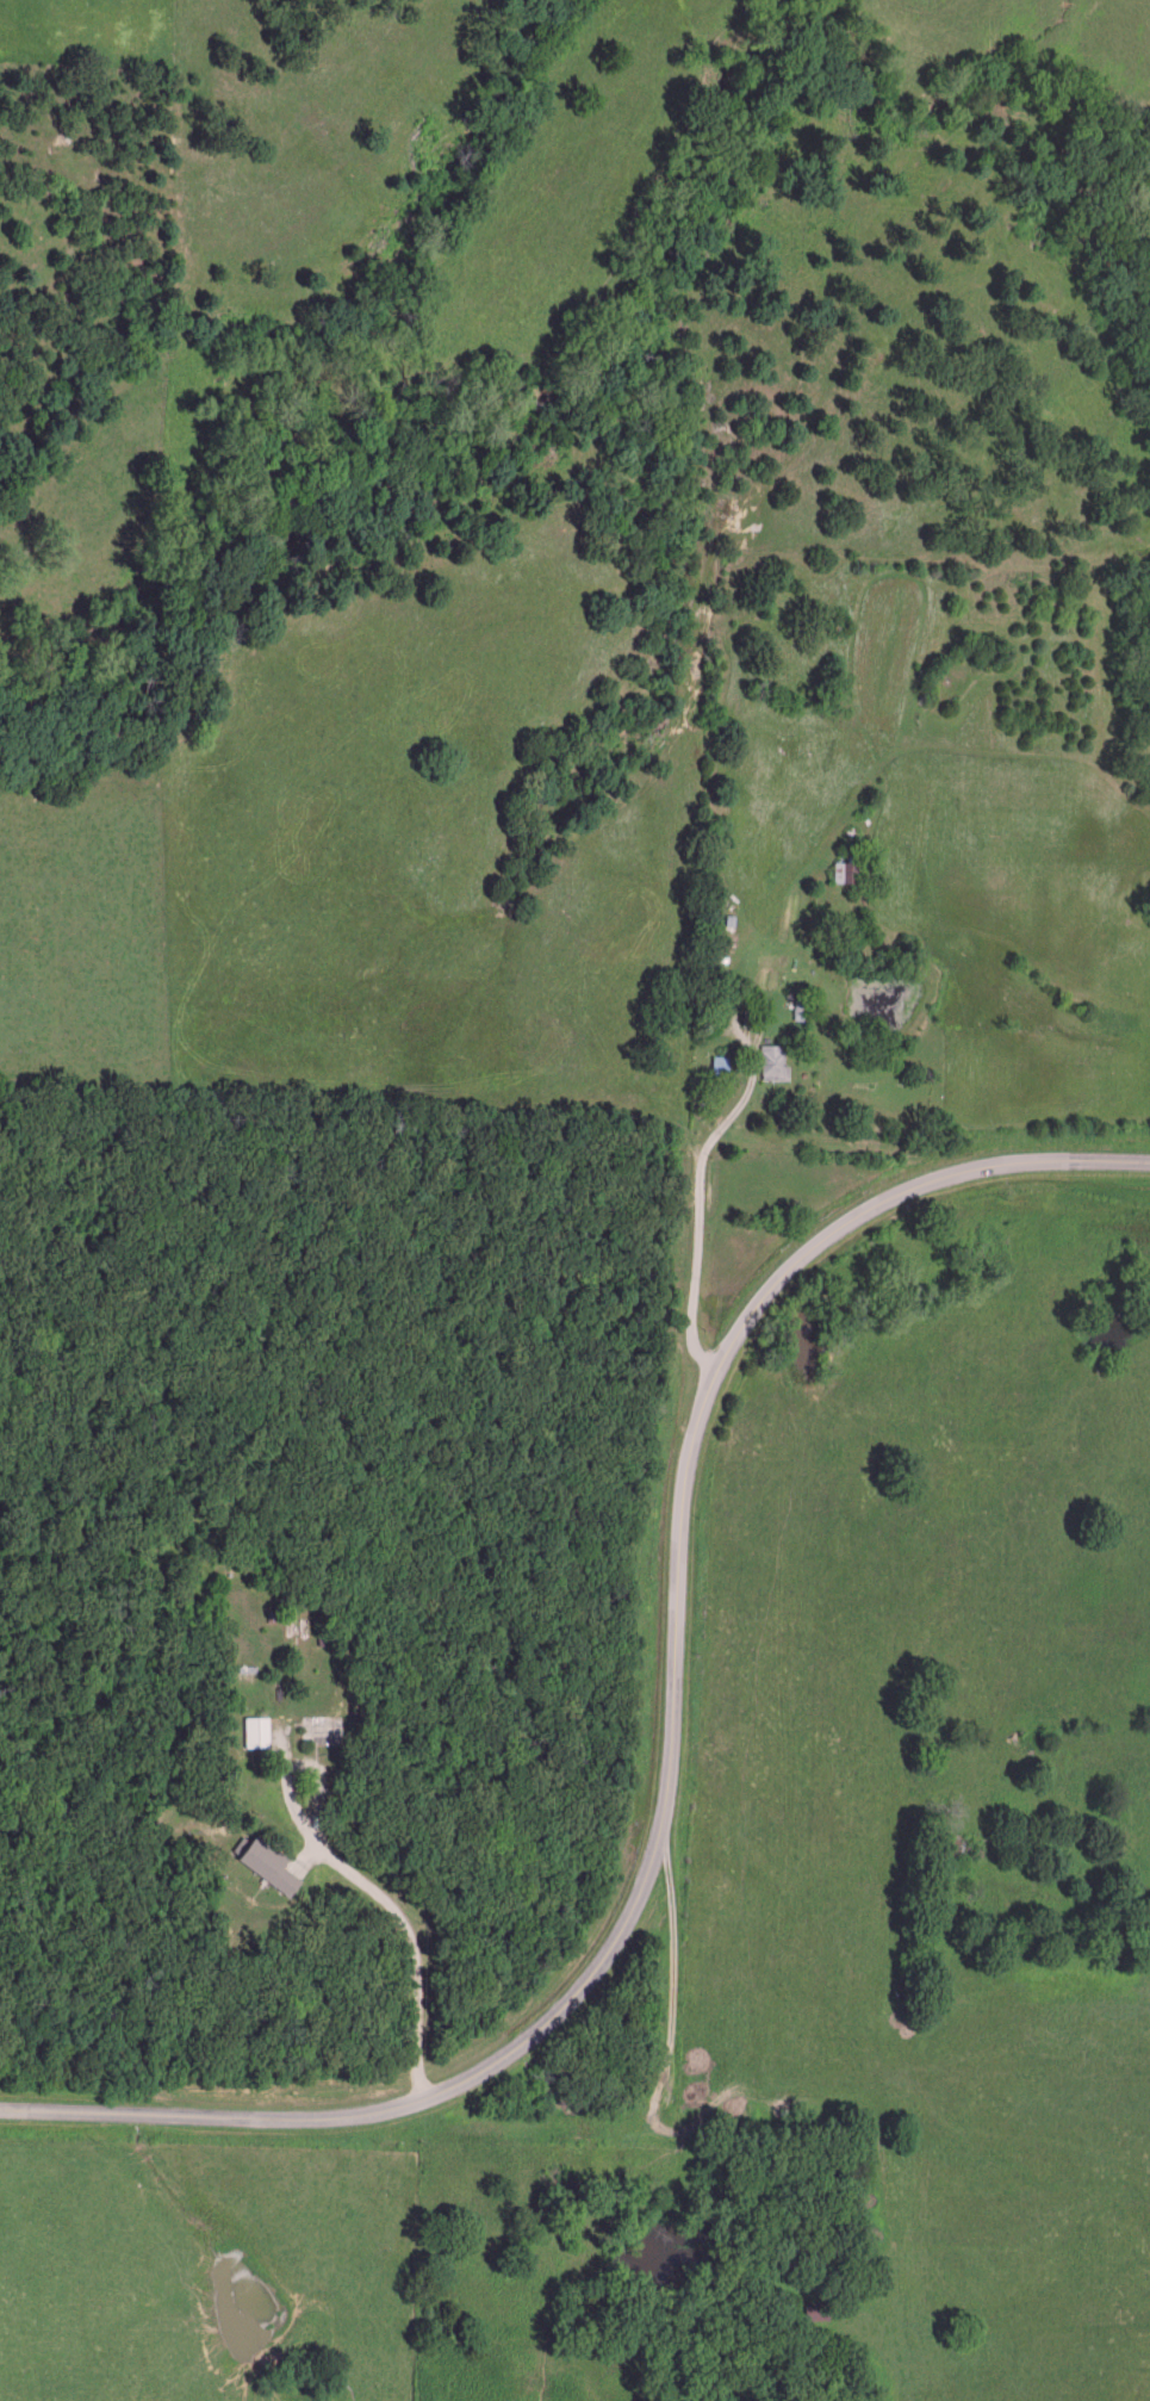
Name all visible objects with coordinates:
building: (844, 868)
building: (776, 1060)
road: (703, 1162)
building: (257, 1729)
road: (675, 1749)
building: (267, 1860)
road: (384, 1907)
road: (675, 1980)

